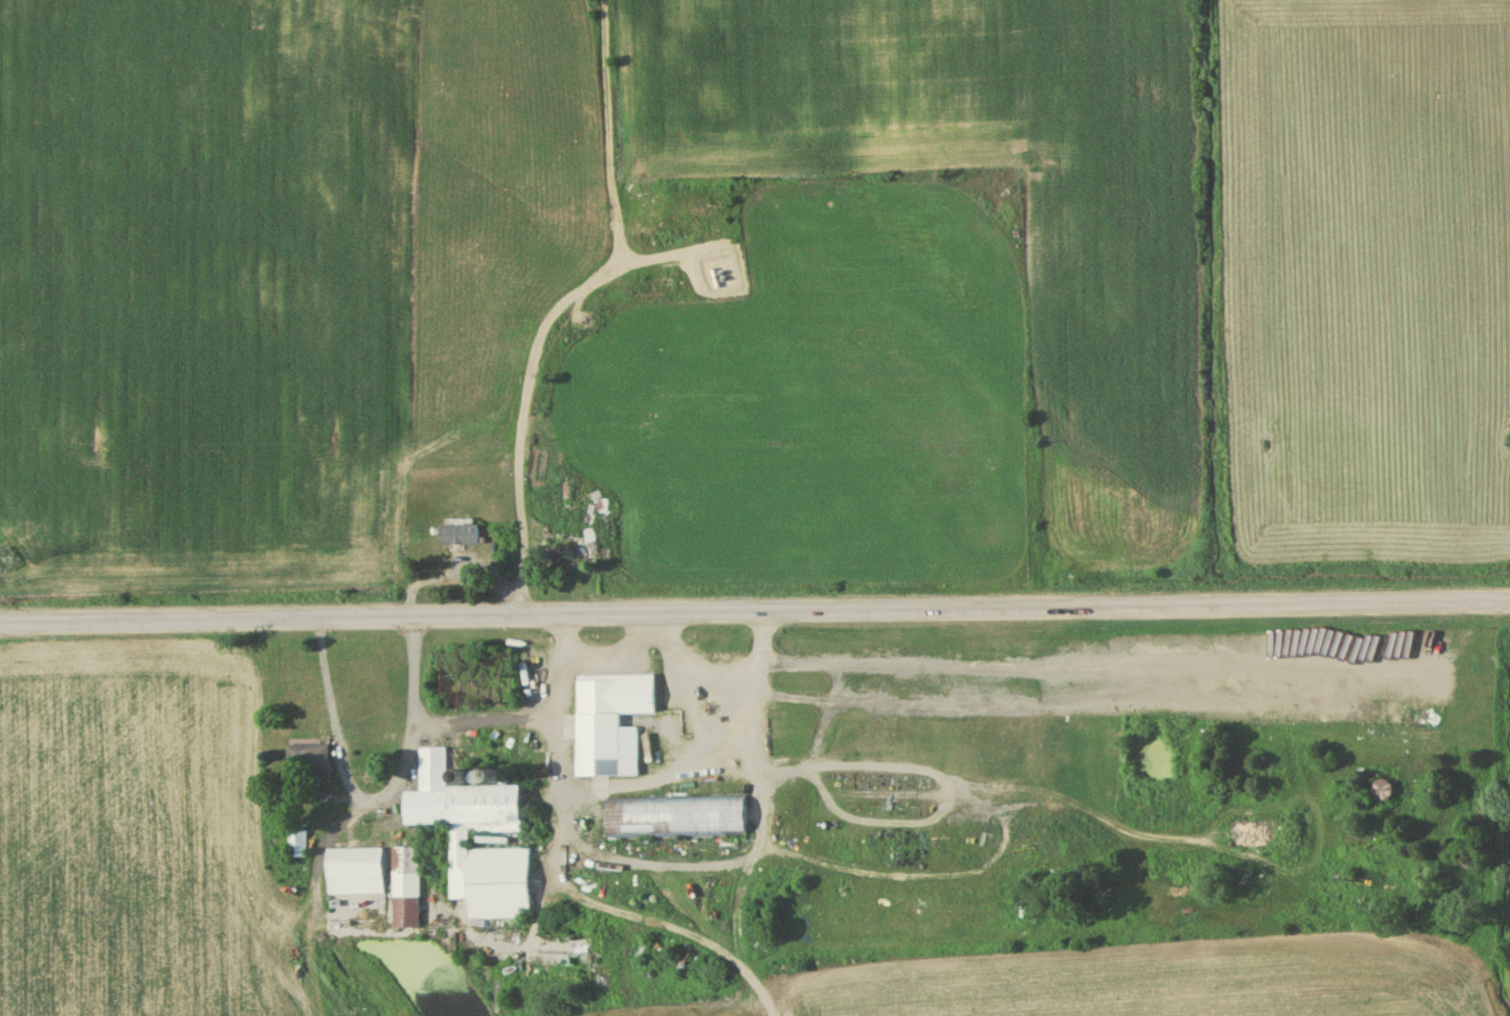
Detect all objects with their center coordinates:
road: (608, 132)
road: (534, 378)
building: (461, 538)
building: (571, 556)
power tower: (4, 565)
road: (459, 570)
road: (754, 612)
road: (755, 675)
road: (1430, 690)
road: (480, 720)
building: (610, 725)
building: (307, 760)
road: (589, 786)
road: (990, 791)
building: (1383, 792)
road: (374, 803)
building: (706, 819)
building: (472, 836)
building: (297, 847)
road: (700, 868)
building: (355, 874)
building: (406, 890)

